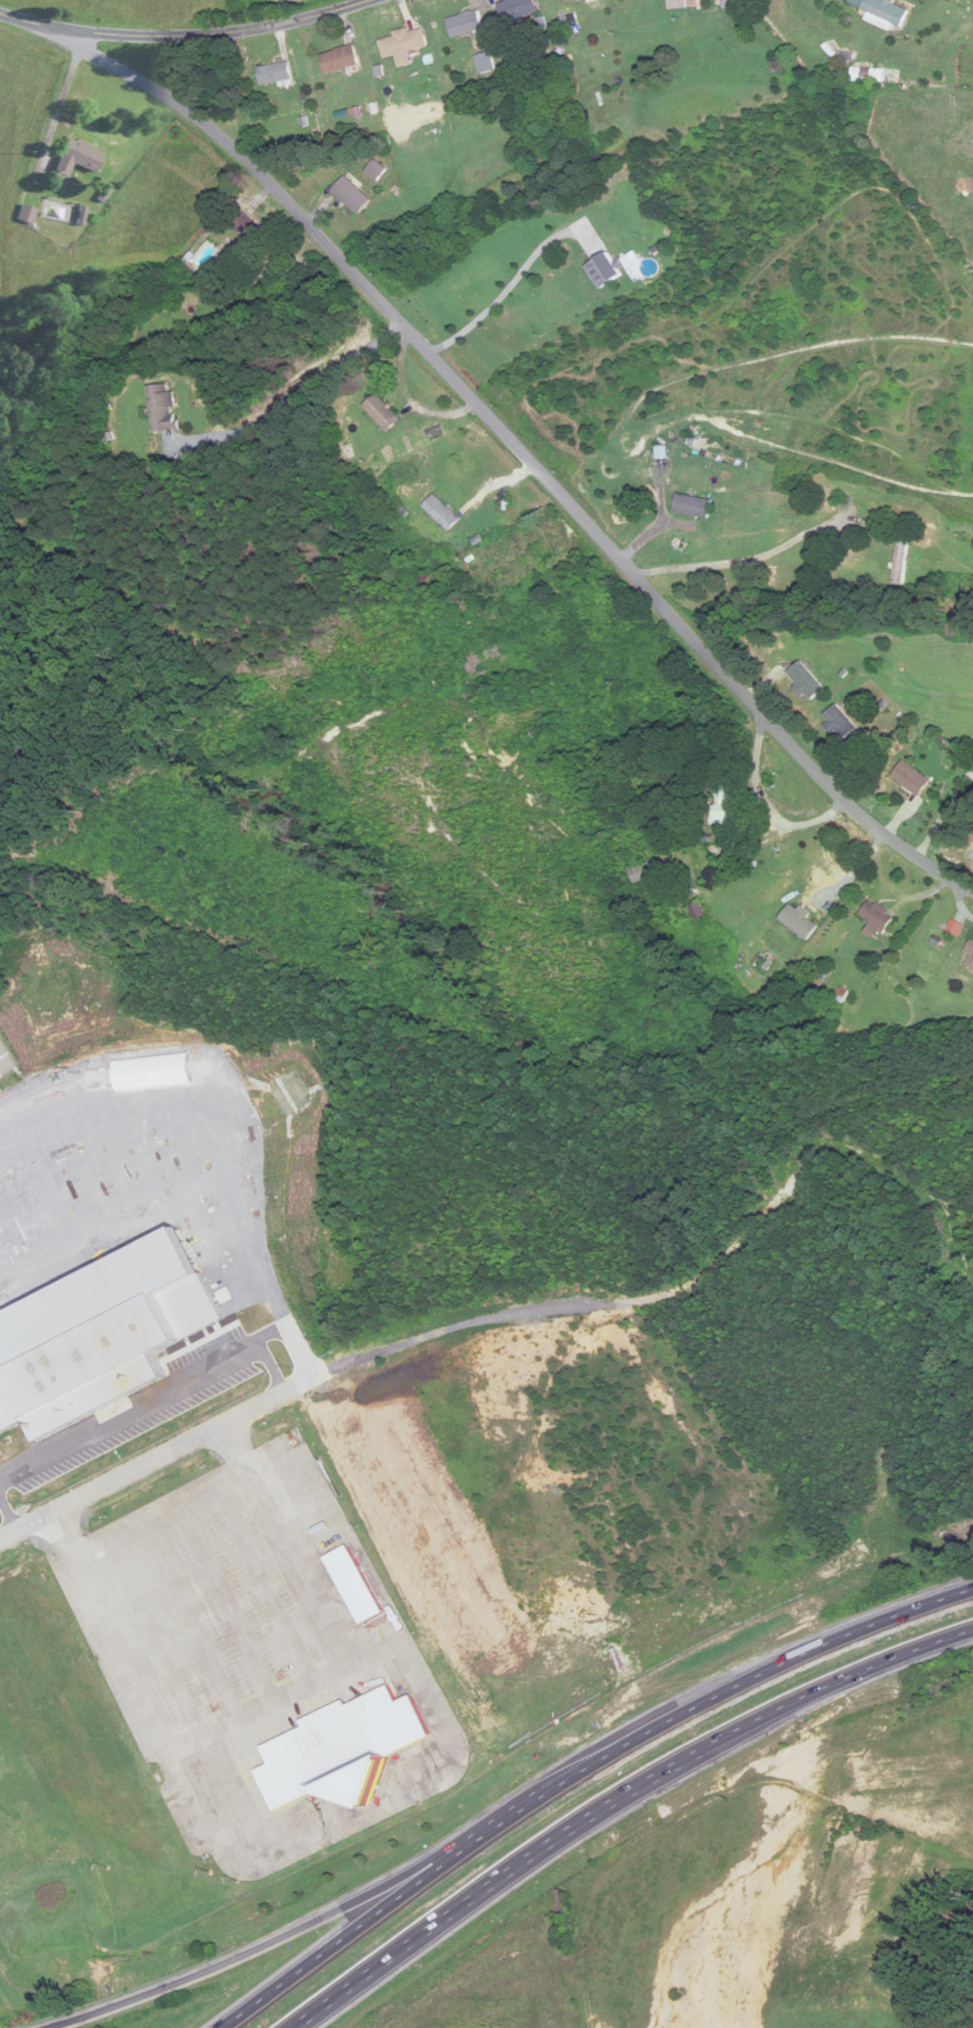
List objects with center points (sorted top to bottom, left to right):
building: (569, 0)
building: (678, 4)
building: (728, 4)
building: (517, 9)
building: (885, 13)
building: (465, 24)
road: (184, 36)
building: (404, 45)
building: (339, 60)
building: (485, 63)
building: (276, 75)
building: (77, 157)
building: (376, 171)
building: (351, 196)
building: (25, 214)
building: (251, 231)
building: (604, 271)
road: (502, 294)
road: (294, 396)
building: (163, 409)
building: (382, 415)
building: (710, 445)
road: (523, 453)
building: (662, 456)
building: (692, 507)
building: (442, 513)
road: (745, 560)
building: (900, 560)
road: (518, 586)
building: (806, 682)
building: (840, 723)
building: (911, 779)
building: (722, 806)
road: (765, 808)
road: (939, 820)
building: (647, 872)
building: (697, 912)
building: (878, 918)
building: (970, 950)
building: (971, 963)
road: (296, 1387)
building: (355, 1586)
parking lot: (222, 1598)
road: (262, 1702)
building: (345, 1750)
road: (574, 1770)
road: (616, 1799)
road: (366, 1860)
road: (507, 1906)

